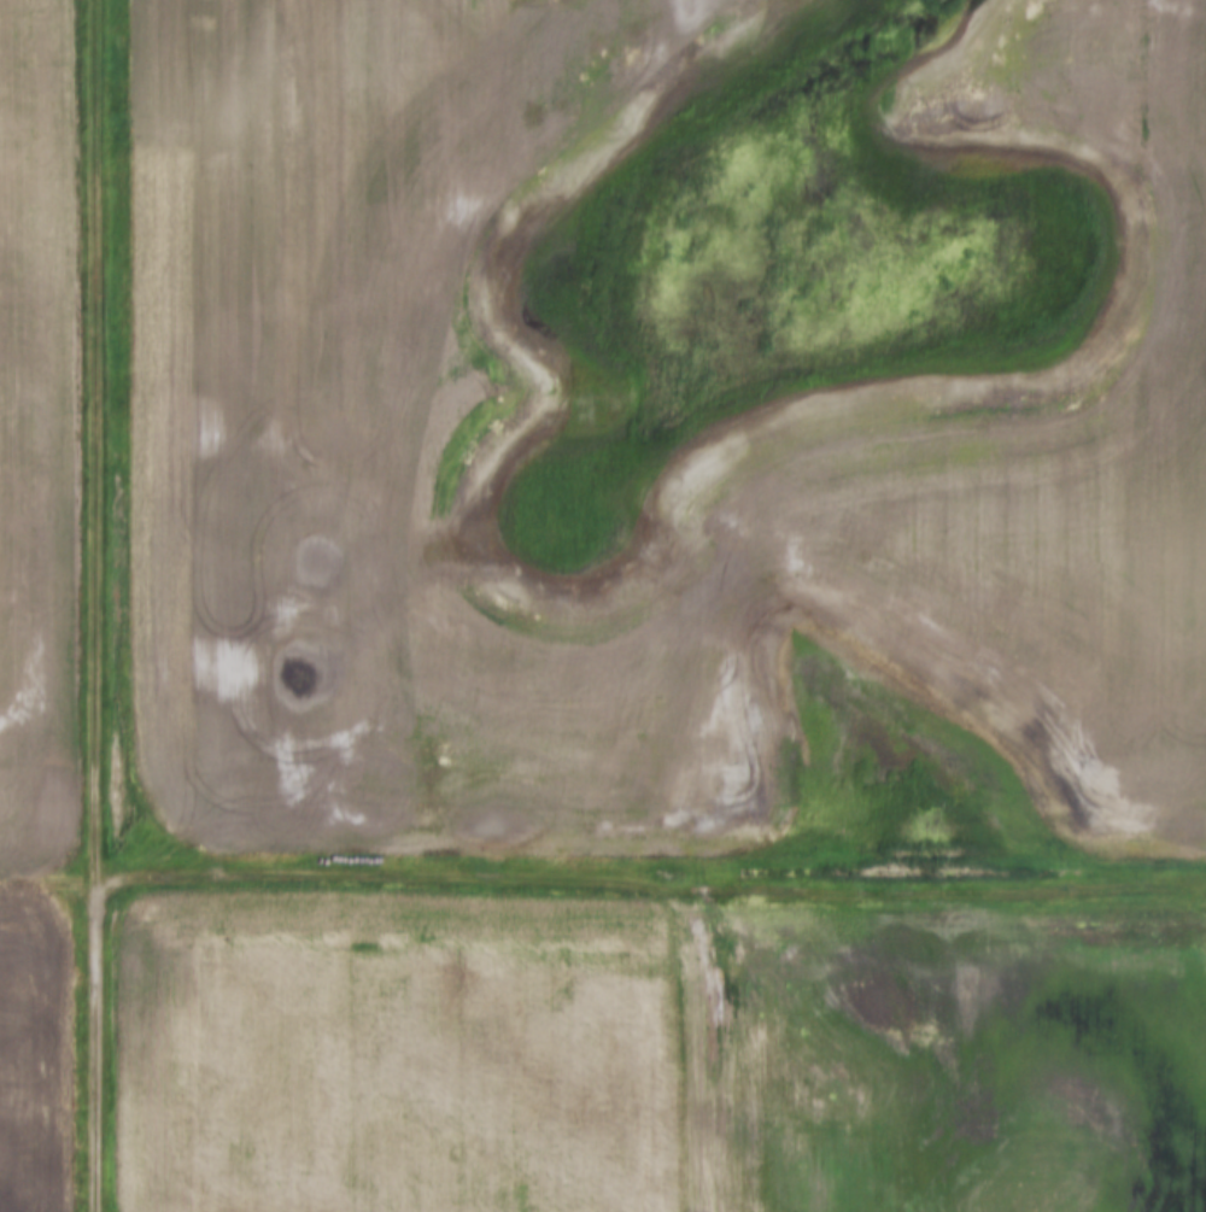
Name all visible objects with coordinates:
road: (96, 605)
road: (602, 877)

